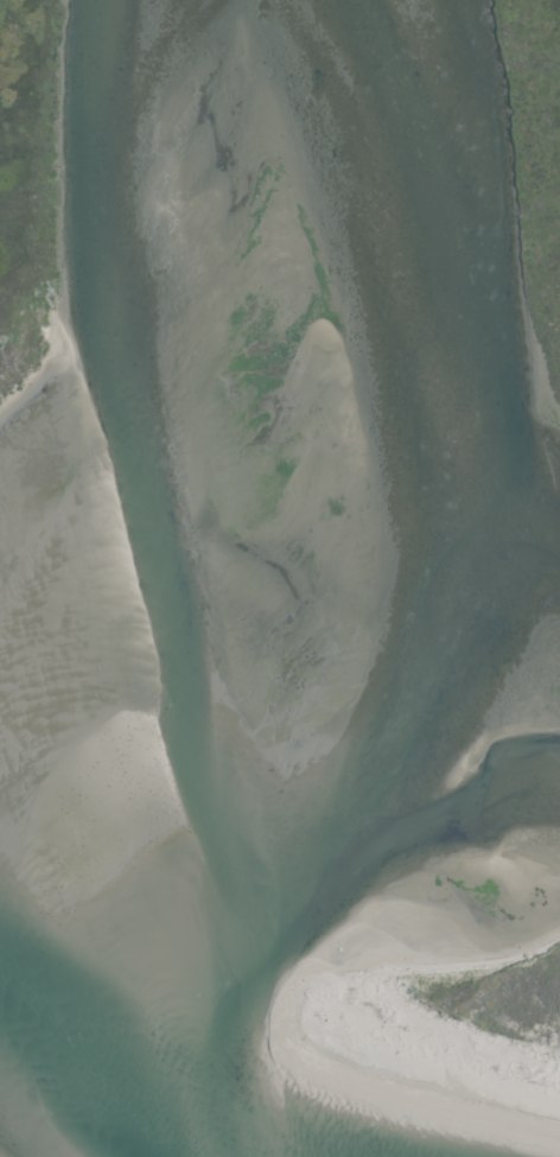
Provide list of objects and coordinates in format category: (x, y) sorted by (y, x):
airport: (280, 578)

